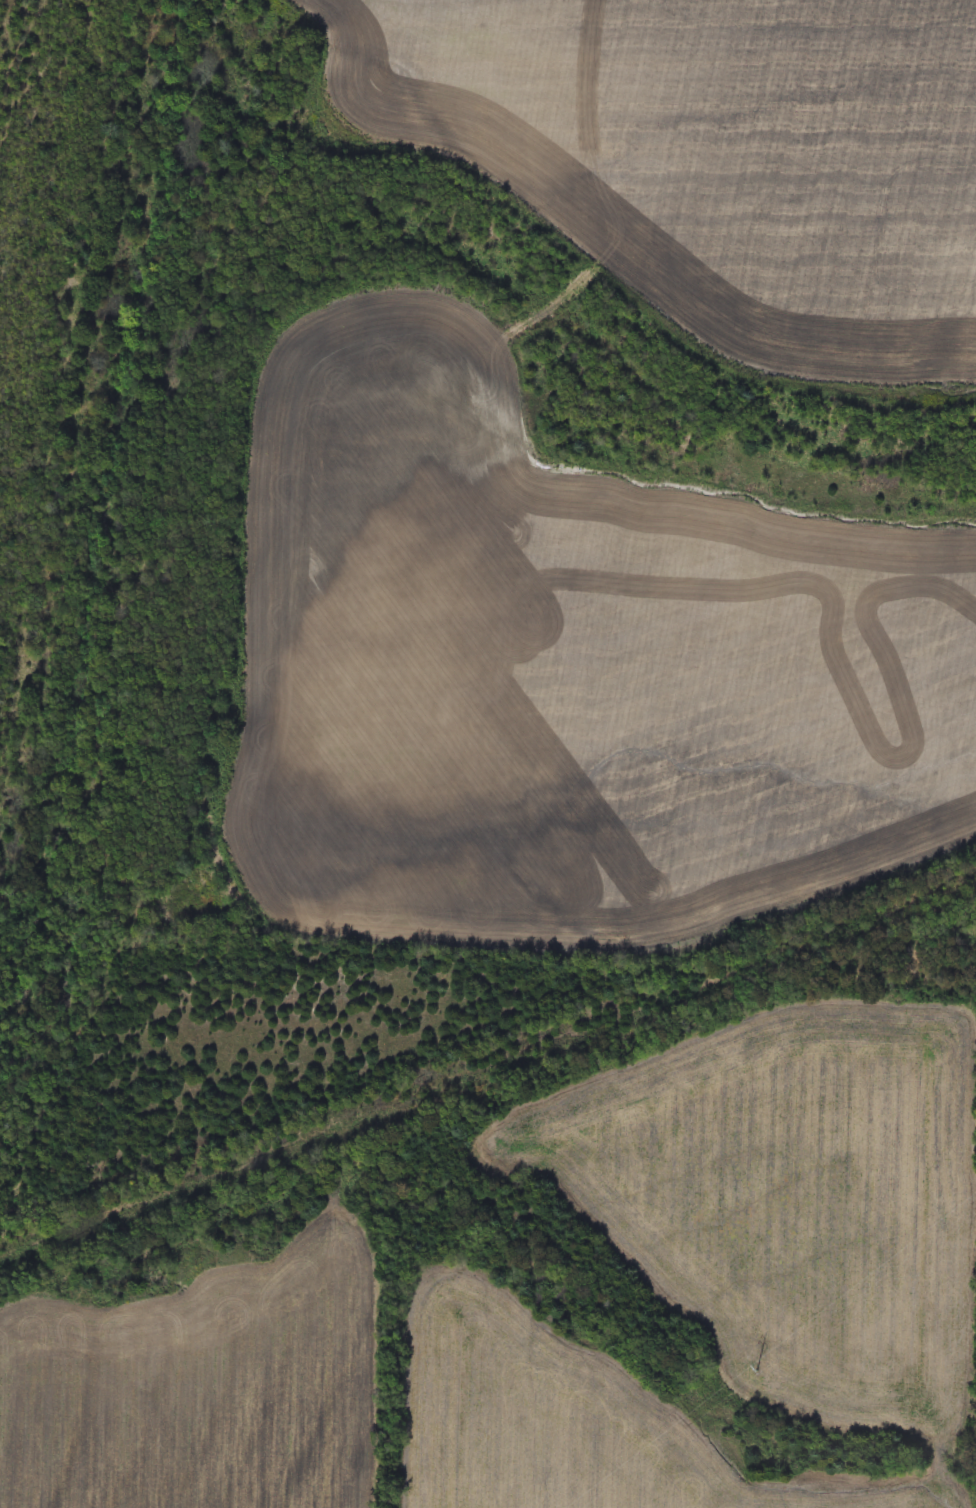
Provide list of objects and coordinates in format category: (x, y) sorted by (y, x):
power tower: (761, 1371)

